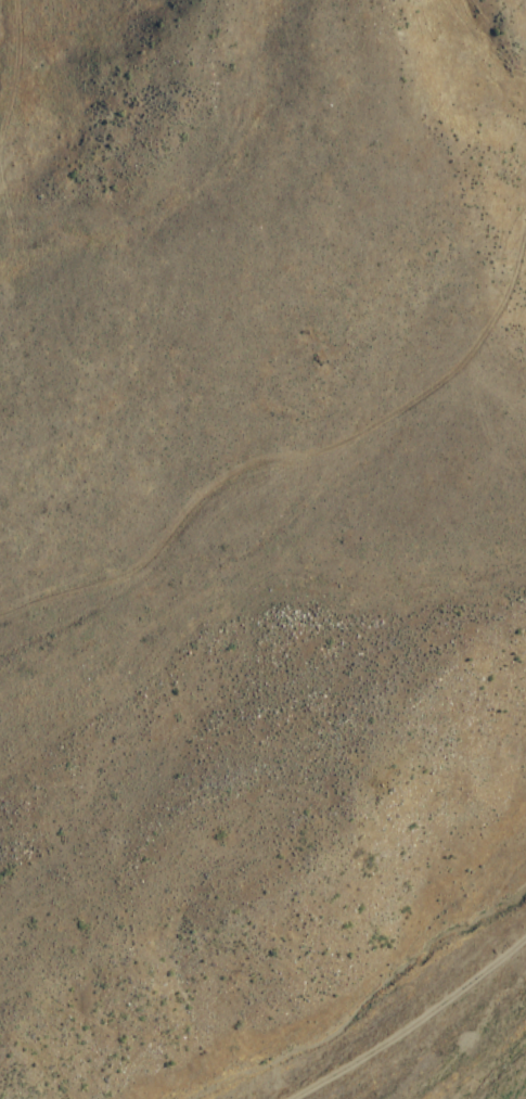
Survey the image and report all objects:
road: (15, 62)
road: (9, 232)
road: (299, 456)
crop: (506, 1065)
road: (489, 1066)

